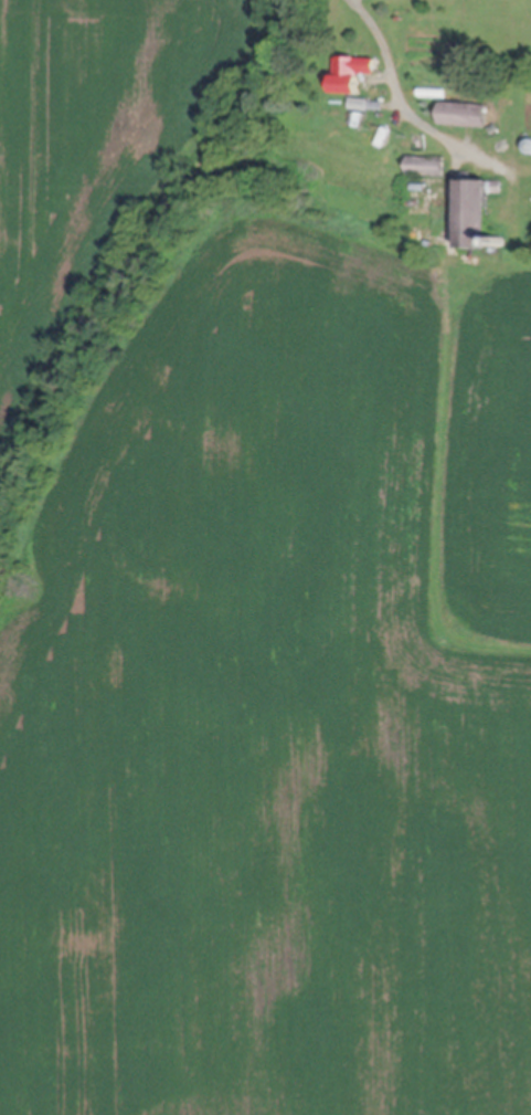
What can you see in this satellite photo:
building: (359, 75)
building: (436, 93)
road: (407, 101)
building: (367, 105)
building: (468, 115)
building: (530, 146)
building: (432, 167)
building: (480, 213)
building: (506, 242)

